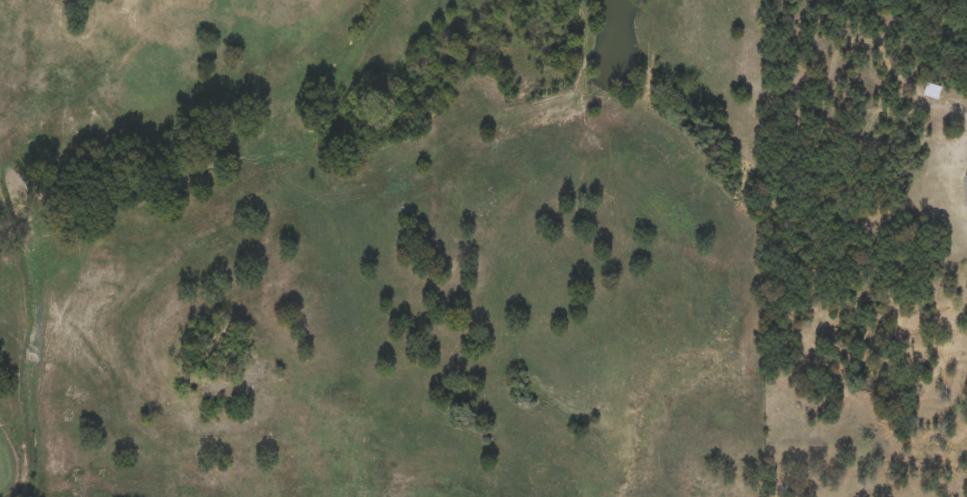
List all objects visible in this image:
building: (964, 191)

